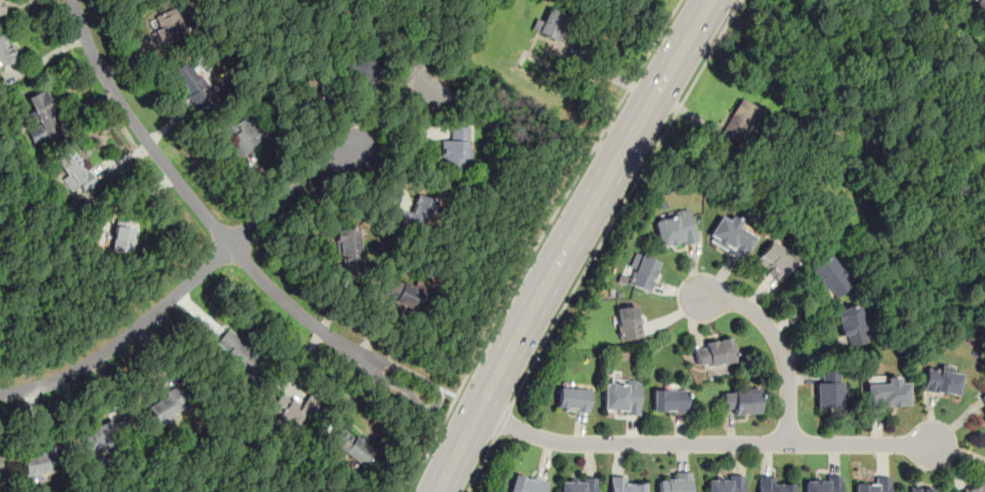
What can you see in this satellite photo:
building: (983, 1)
building: (1, 9)
building: (549, 24)
road: (726, 24)
building: (170, 28)
building: (7, 52)
building: (357, 68)
road: (611, 73)
building: (422, 85)
building: (191, 86)
building: (304, 94)
building: (42, 117)
building: (738, 120)
building: (242, 131)
building: (456, 147)
building: (73, 169)
road: (291, 191)
road: (194, 201)
building: (414, 213)
road: (610, 227)
building: (674, 229)
building: (121, 235)
building: (730, 236)
road: (539, 243)
road: (568, 243)
building: (348, 248)
building: (775, 260)
building: (641, 271)
building: (828, 275)
building: (401, 291)
building: (627, 320)
building: (850, 325)
road: (125, 337)
road: (777, 344)
building: (237, 351)
building: (714, 351)
building: (940, 382)
building: (827, 388)
road: (446, 390)
building: (886, 394)
building: (621, 397)
building: (572, 398)
building: (668, 400)
building: (739, 401)
road: (437, 403)
building: (982, 403)
building: (166, 404)
building: (293, 410)
road: (502, 420)
building: (100, 439)
road: (703, 443)
building: (352, 445)
road: (482, 463)
building: (38, 465)
building: (674, 482)
building: (724, 483)
building: (822, 483)
building: (525, 484)
building: (773, 484)
building: (577, 485)
building: (624, 485)
building: (873, 485)
building: (974, 488)
building: (923, 490)

